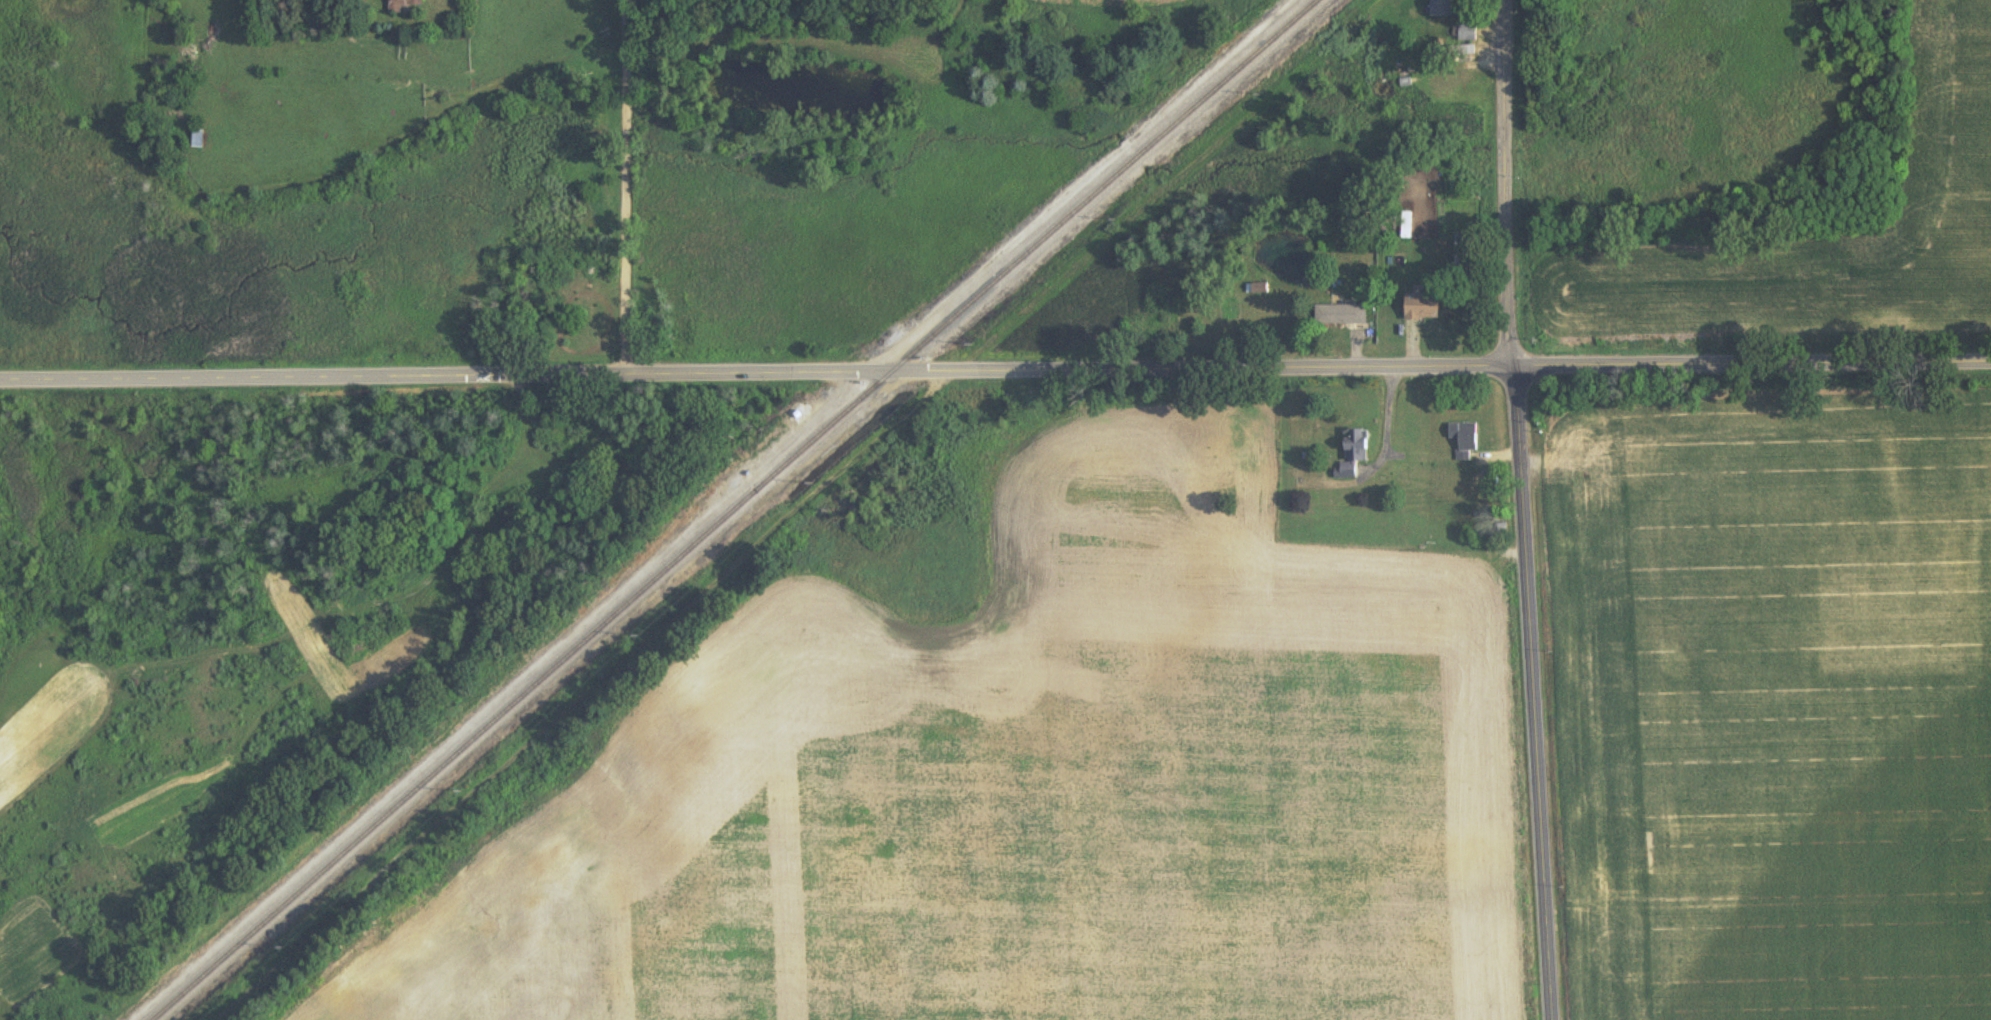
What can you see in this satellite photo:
building: (402, 5)
building: (1441, 9)
building: (1467, 34)
building: (1466, 50)
building: (197, 140)
road: (628, 186)
building: (1406, 225)
crop: (1813, 236)
building: (1461, 254)
building: (1422, 307)
building: (1341, 315)
road: (995, 370)
building: (1464, 440)
building: (1353, 454)
railway: (735, 508)
road: (799, 510)
road: (1524, 510)

